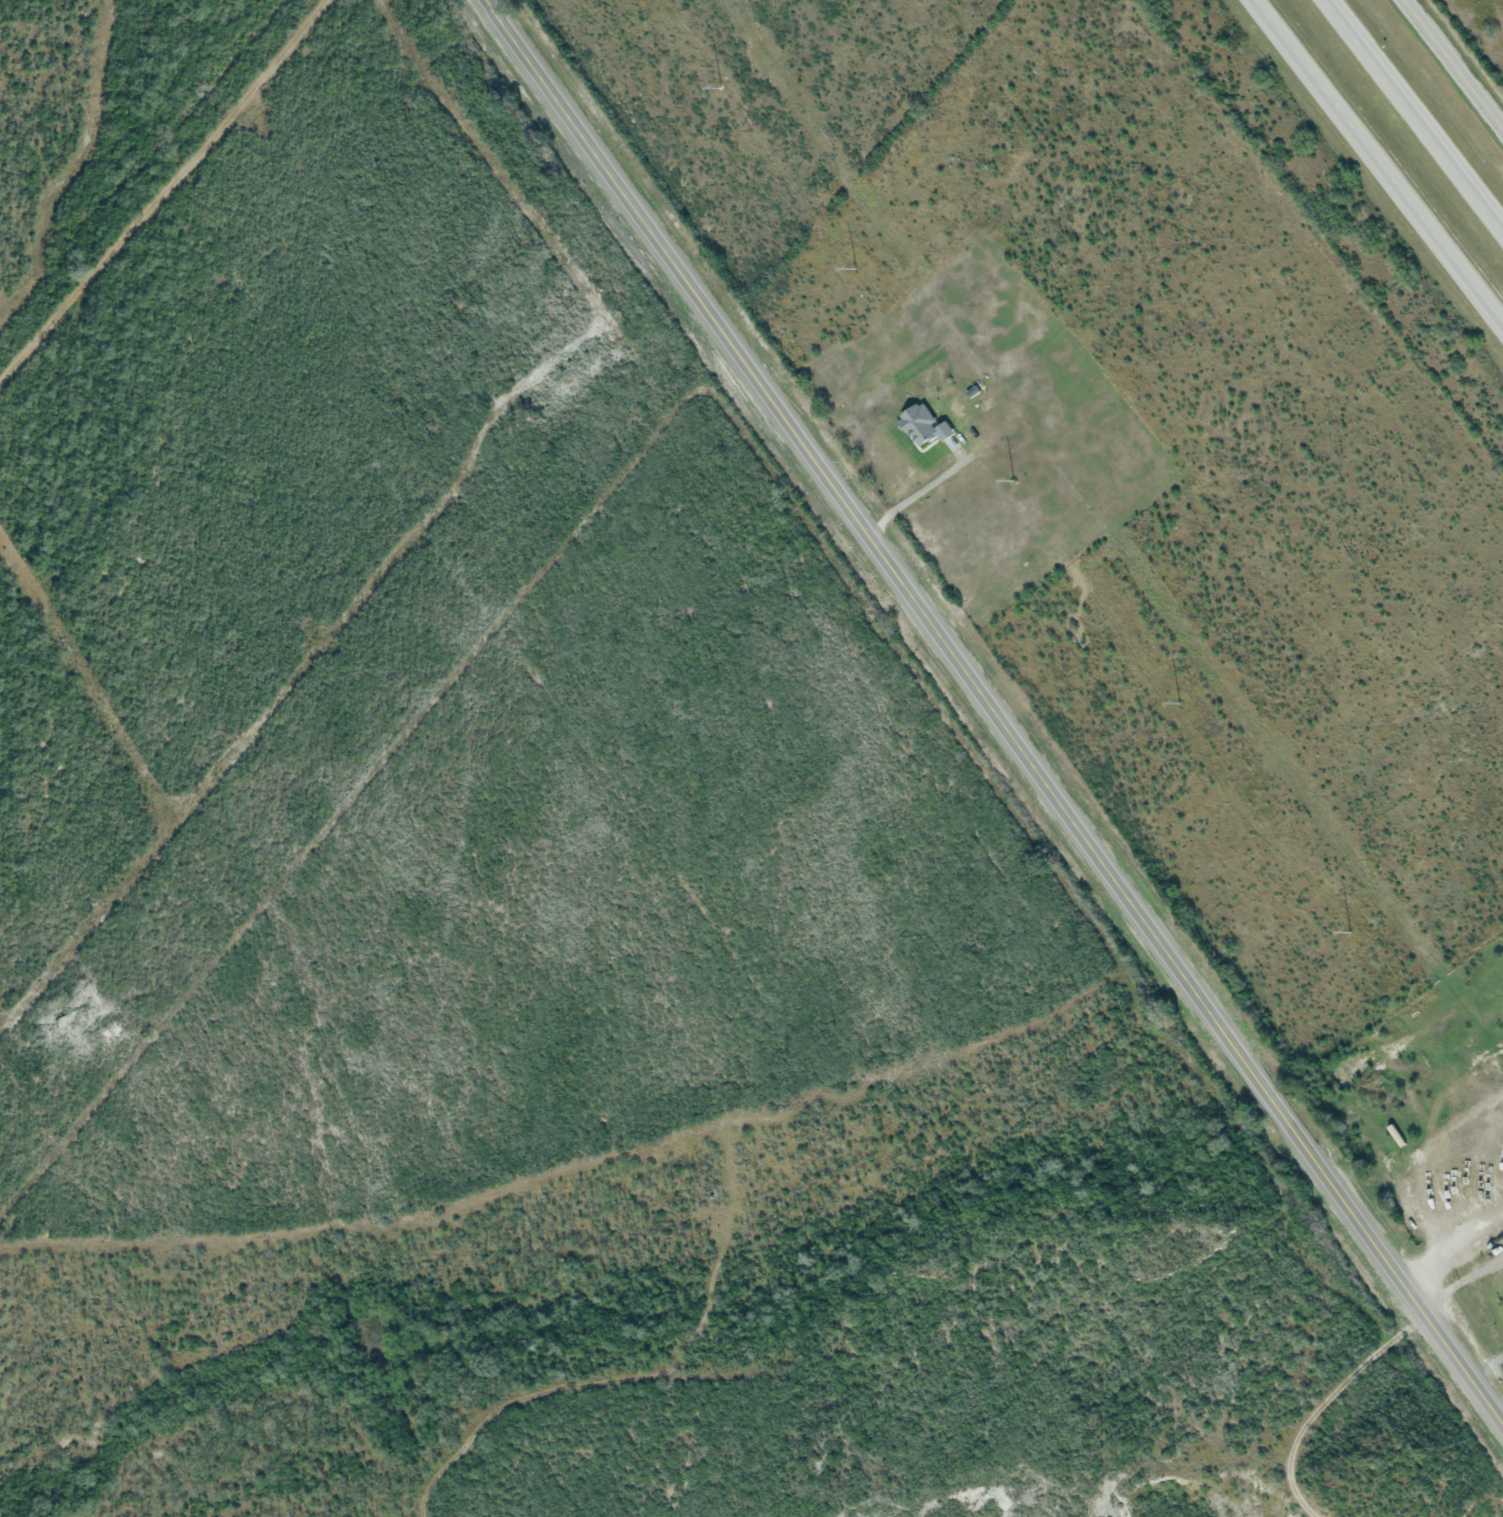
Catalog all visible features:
road: (1453, 65)
power tower: (718, 90)
road: (1417, 111)
road: (1377, 164)
power tower: (856, 270)
power tower: (1013, 482)
power tower: (1178, 701)
road: (994, 713)
power tower: (1351, 933)

